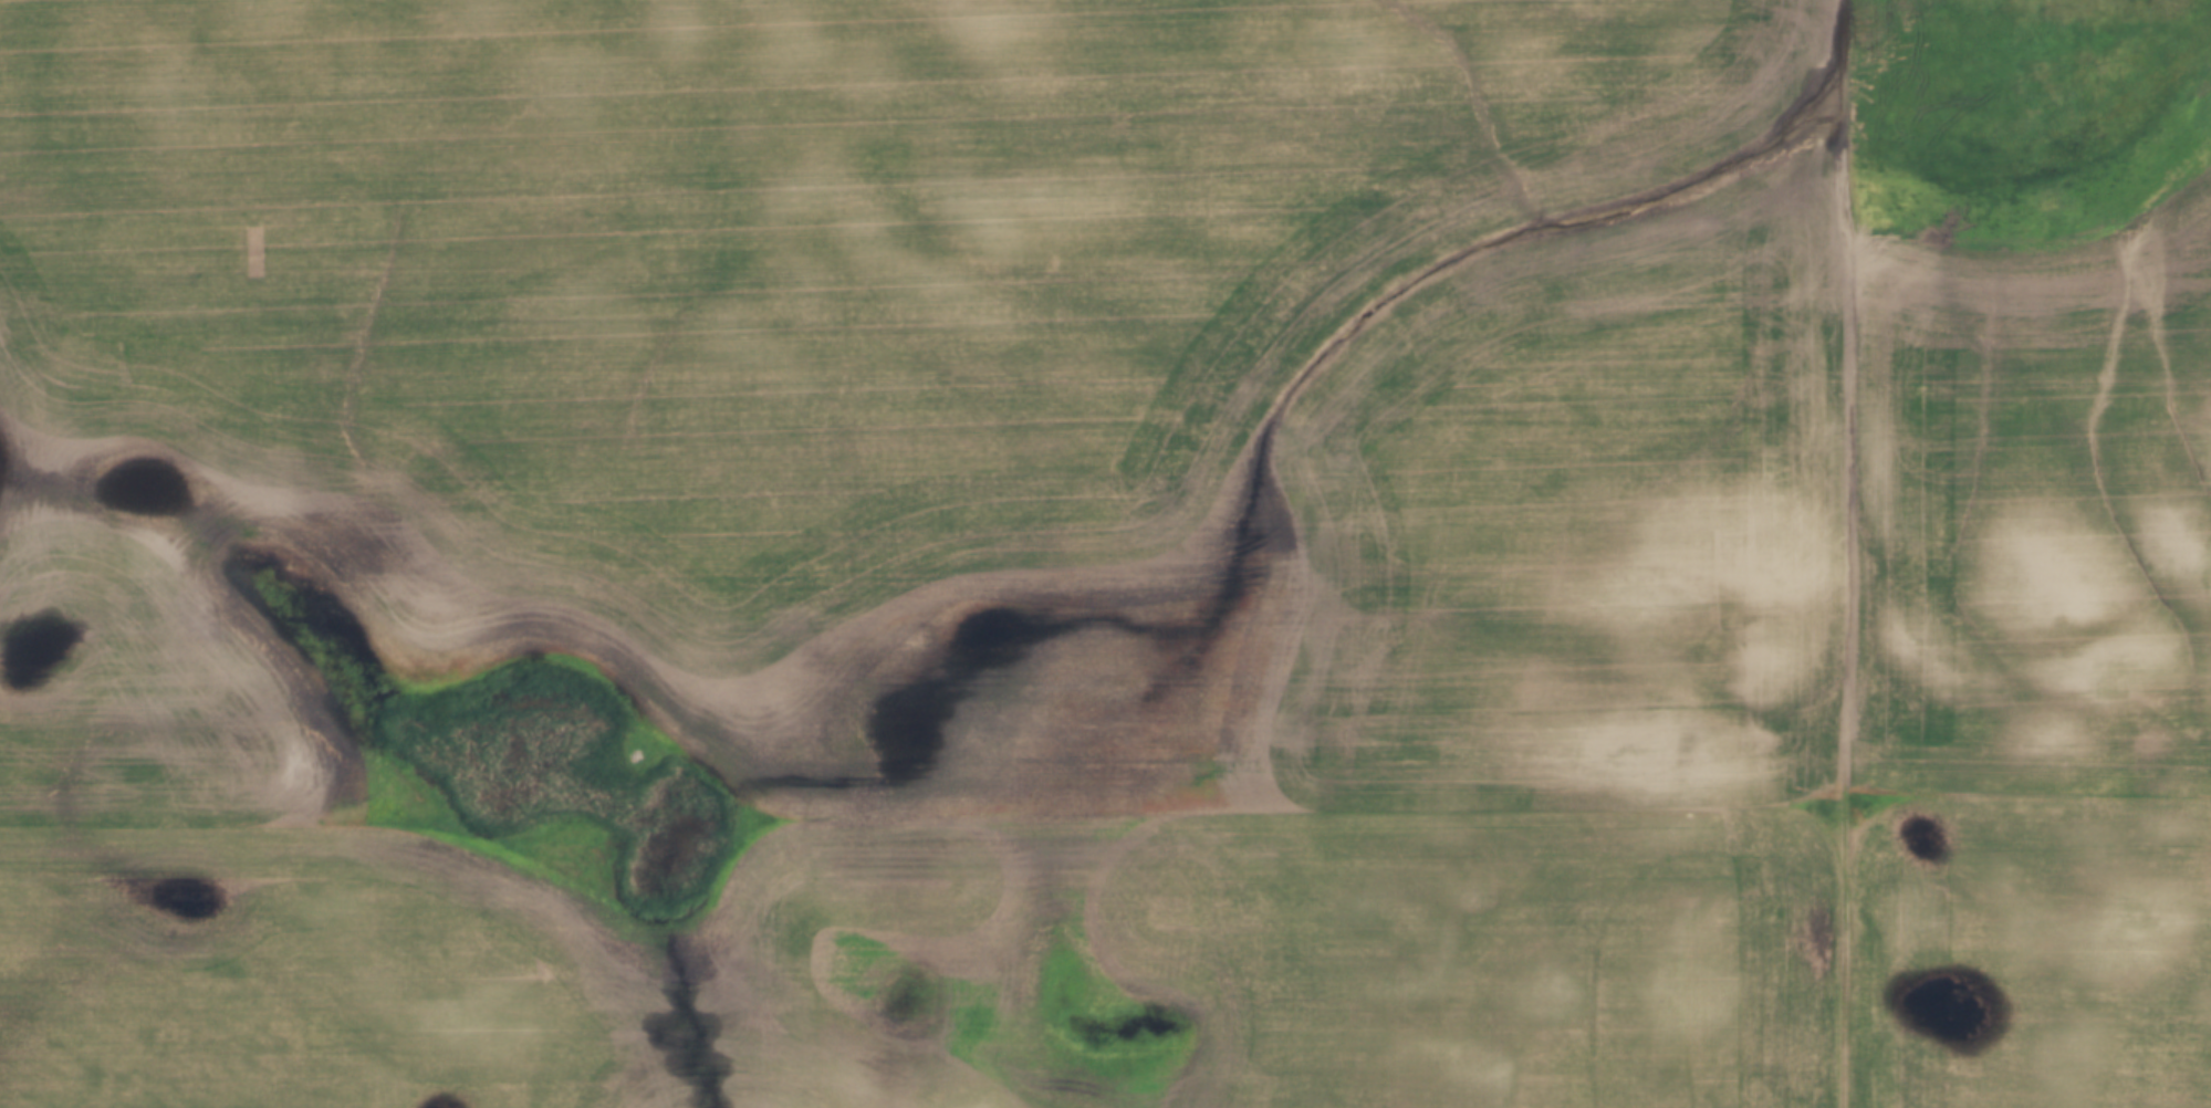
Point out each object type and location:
road: (1852, 554)

